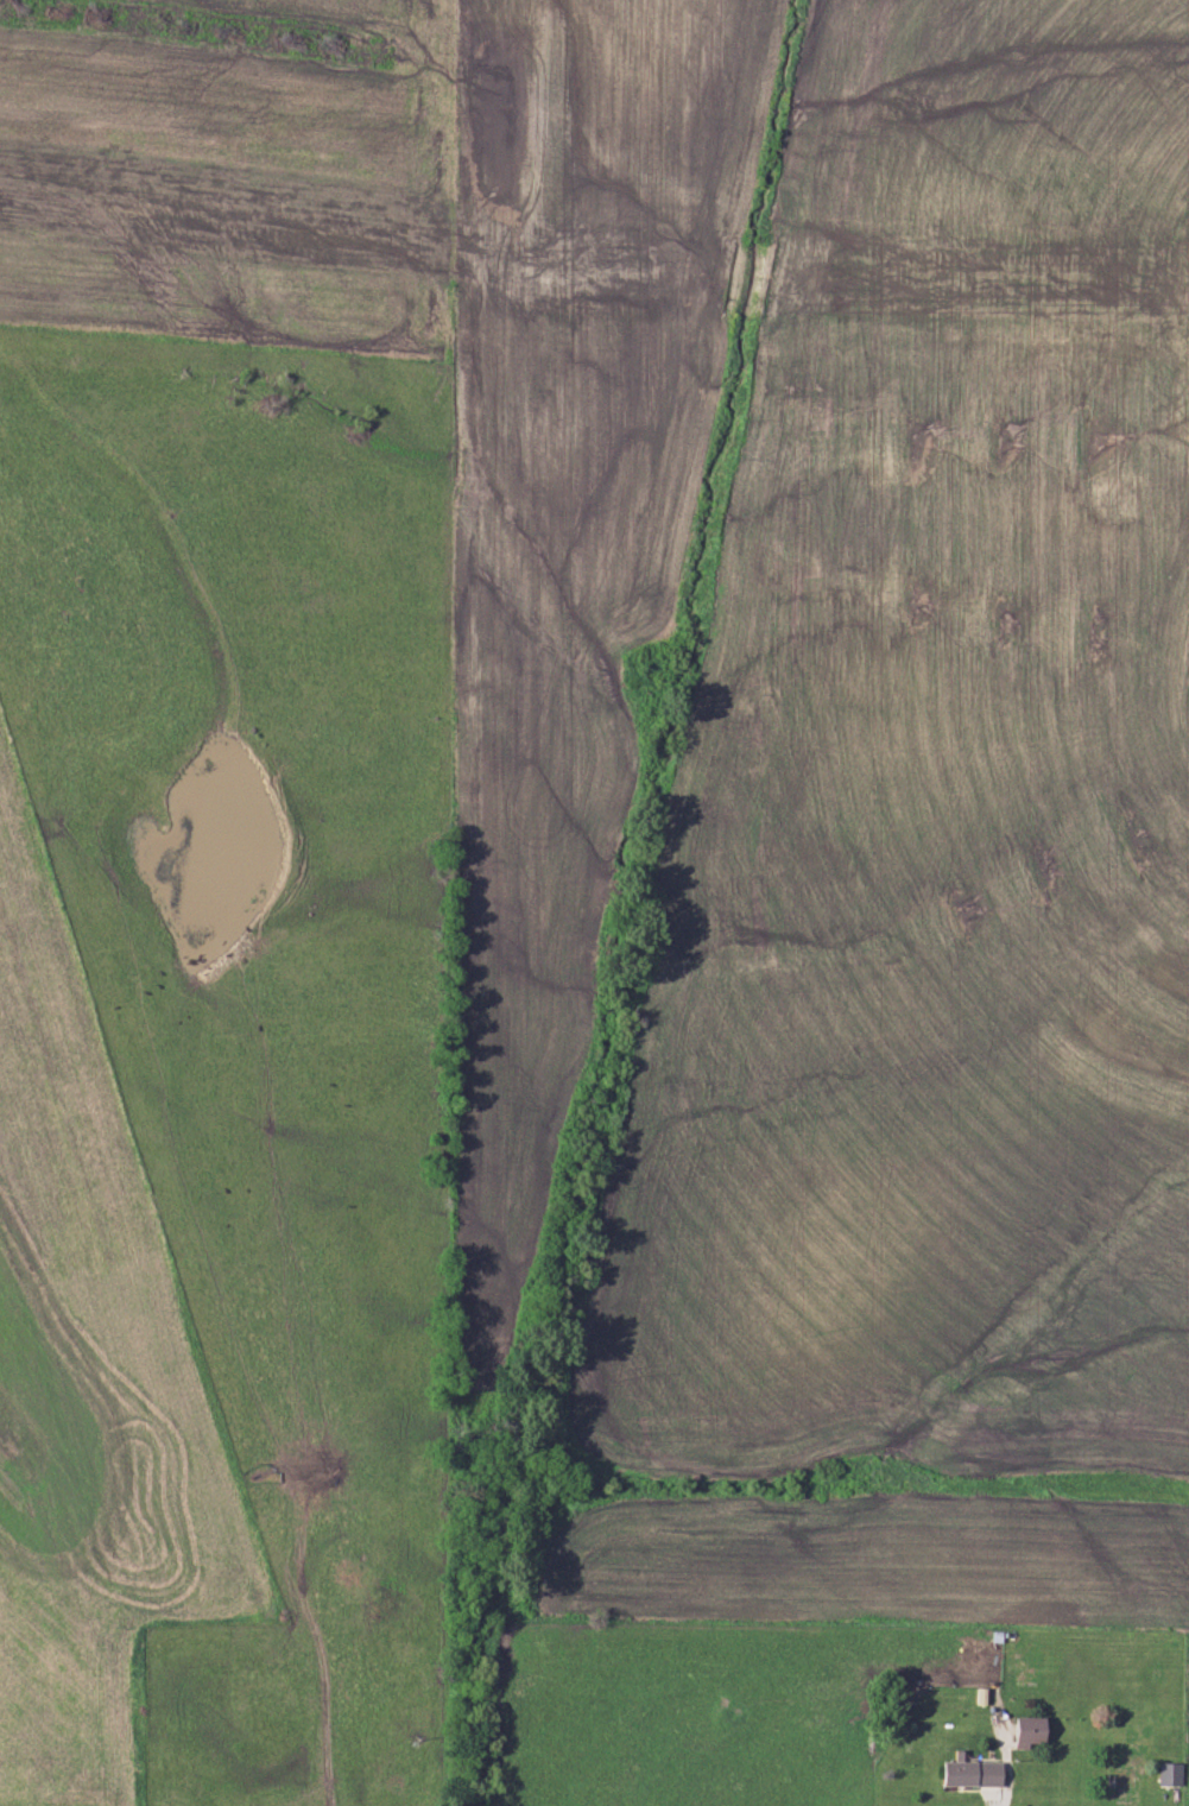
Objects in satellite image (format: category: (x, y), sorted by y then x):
building: (966, 1773)
building: (1165, 1773)
building: (1119, 1779)

